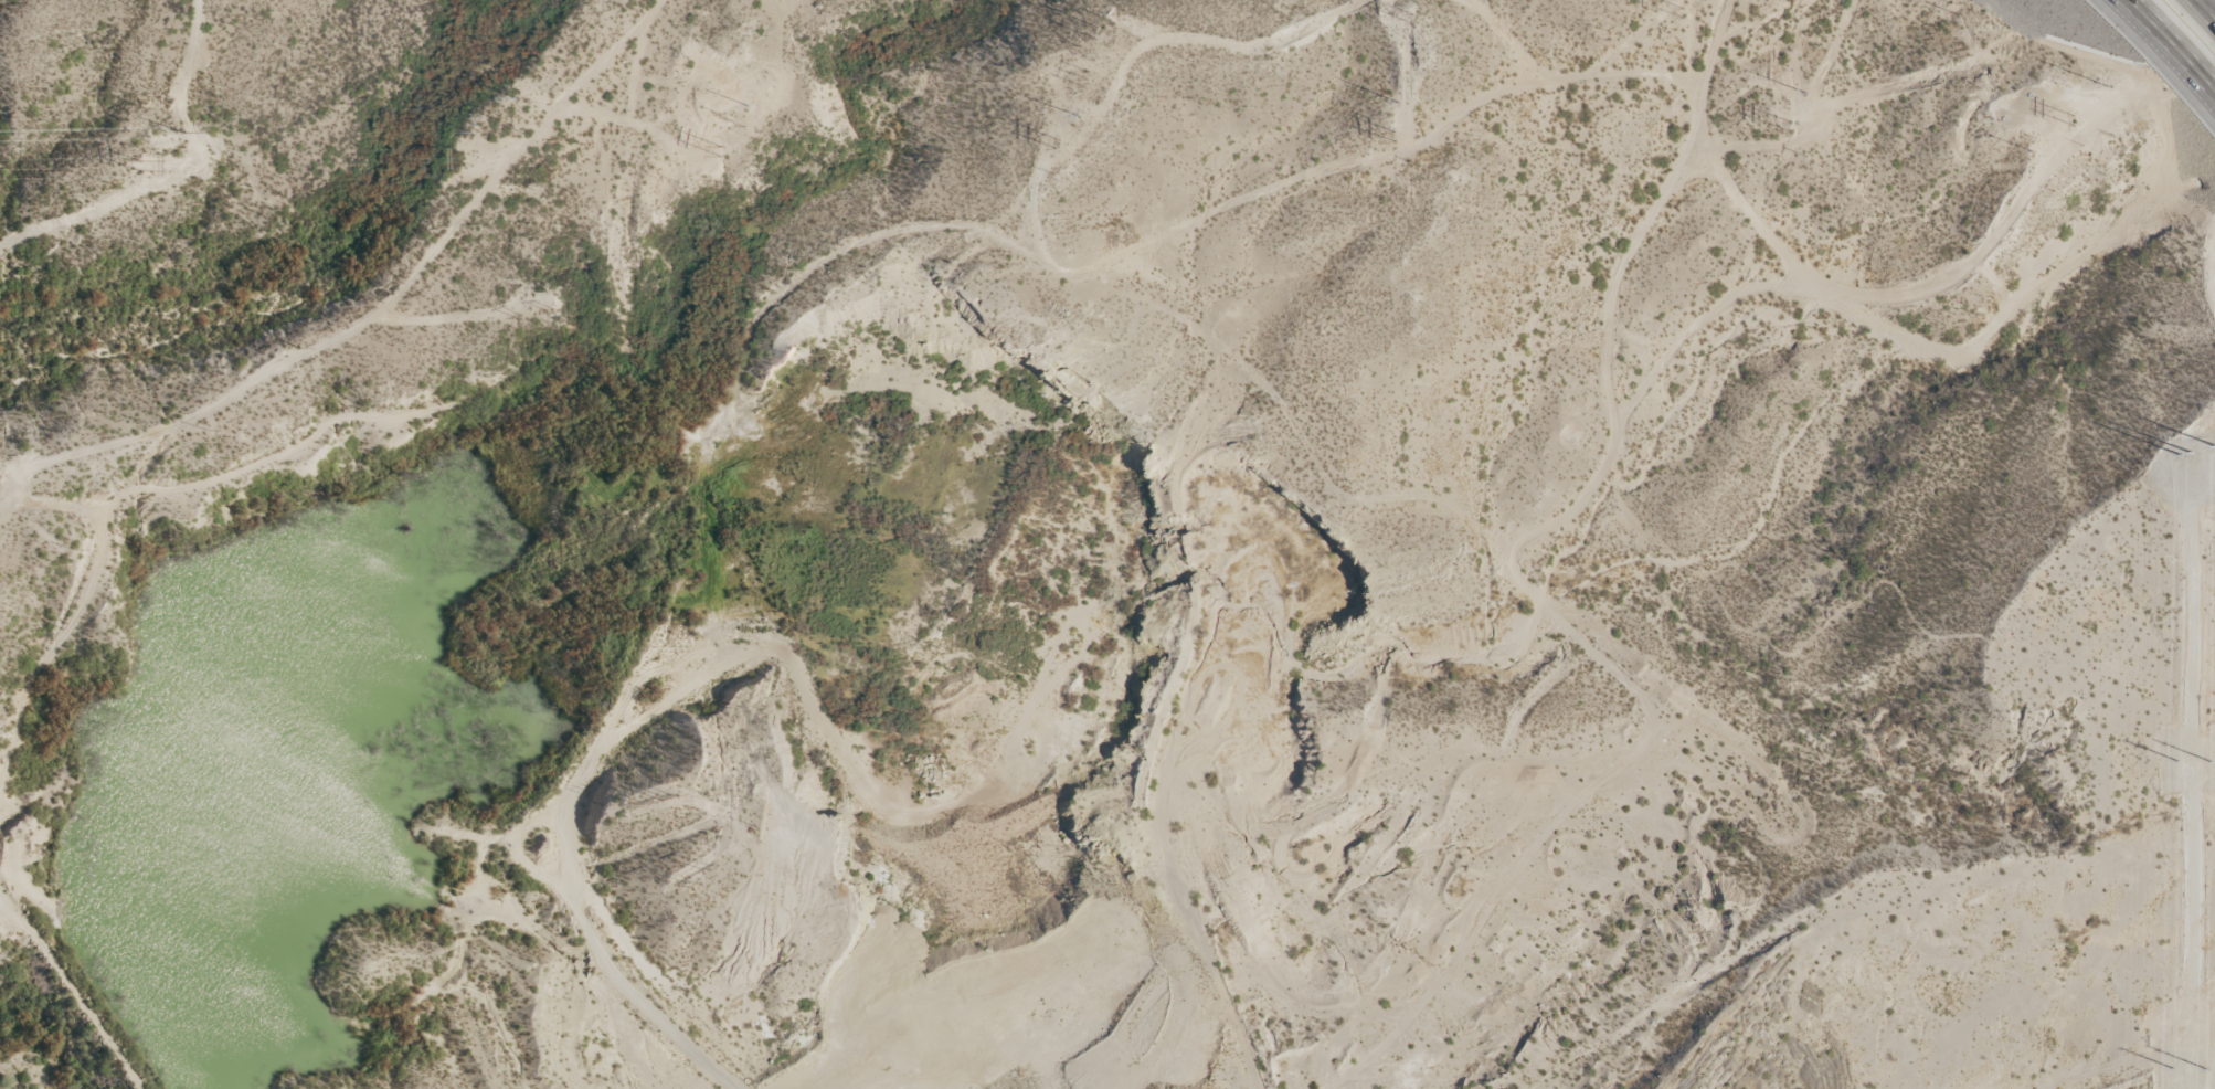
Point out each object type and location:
road: (2204, 10)
road: (2180, 35)
power tower: (1398, 102)
power tower: (1073, 110)
power tower: (475, 114)
power tower: (1791, 125)
power tower: (182, 129)
power tower: (1392, 131)
power tower: (1056, 140)
power tower: (720, 147)
power tower: (462, 154)
power tower: (139, 165)
dam: (75, 982)
dam: (75, 1008)

